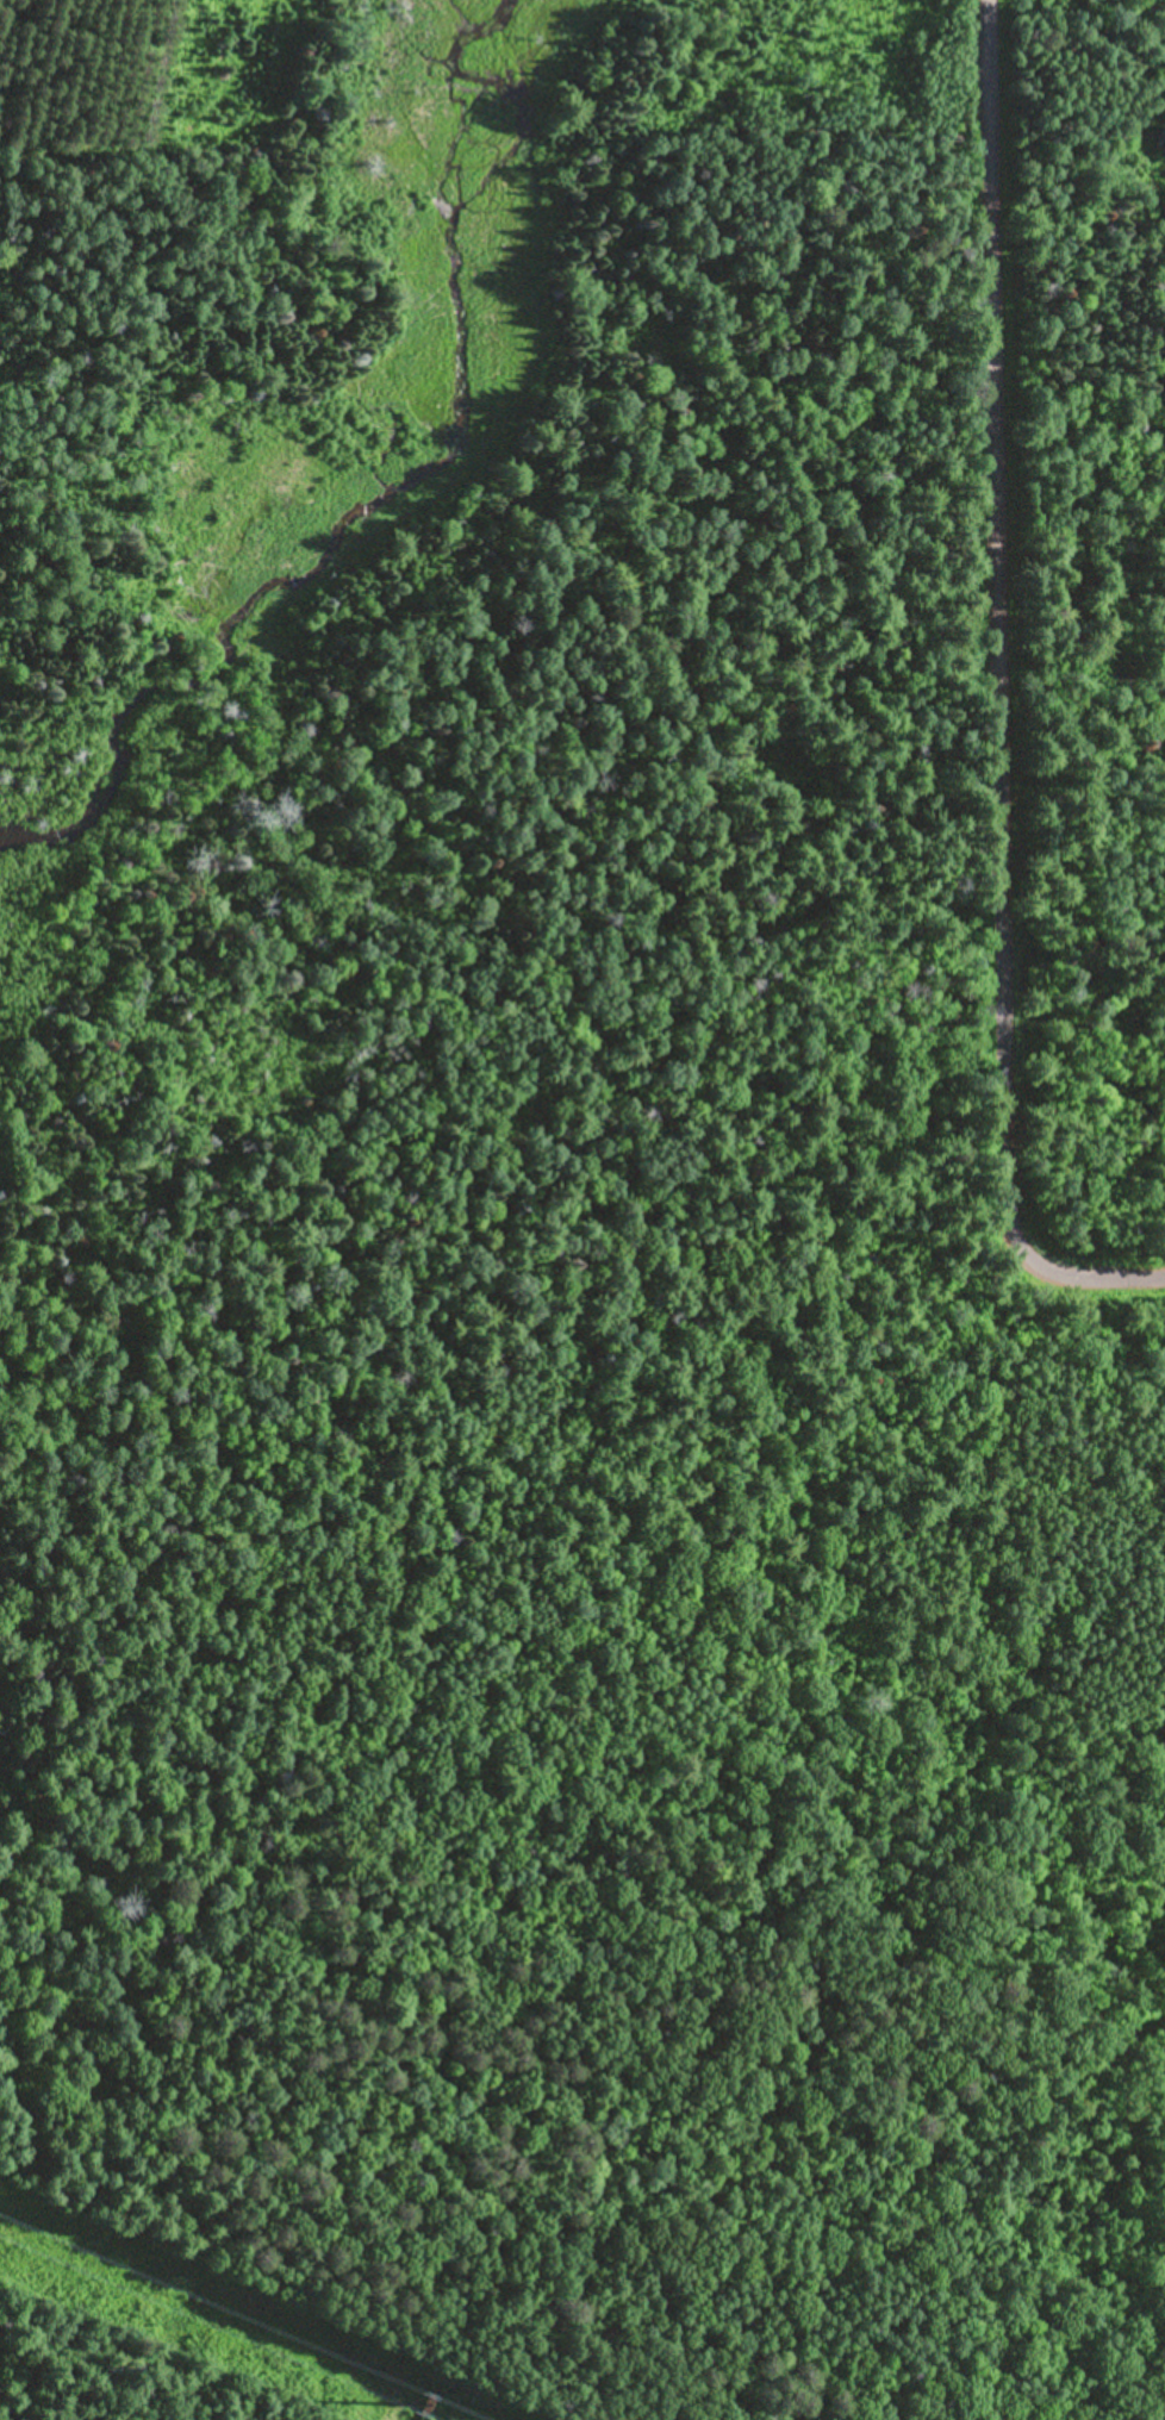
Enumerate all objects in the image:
road: (998, 631)
road: (1095, 1279)
power tower: (417, 2405)

